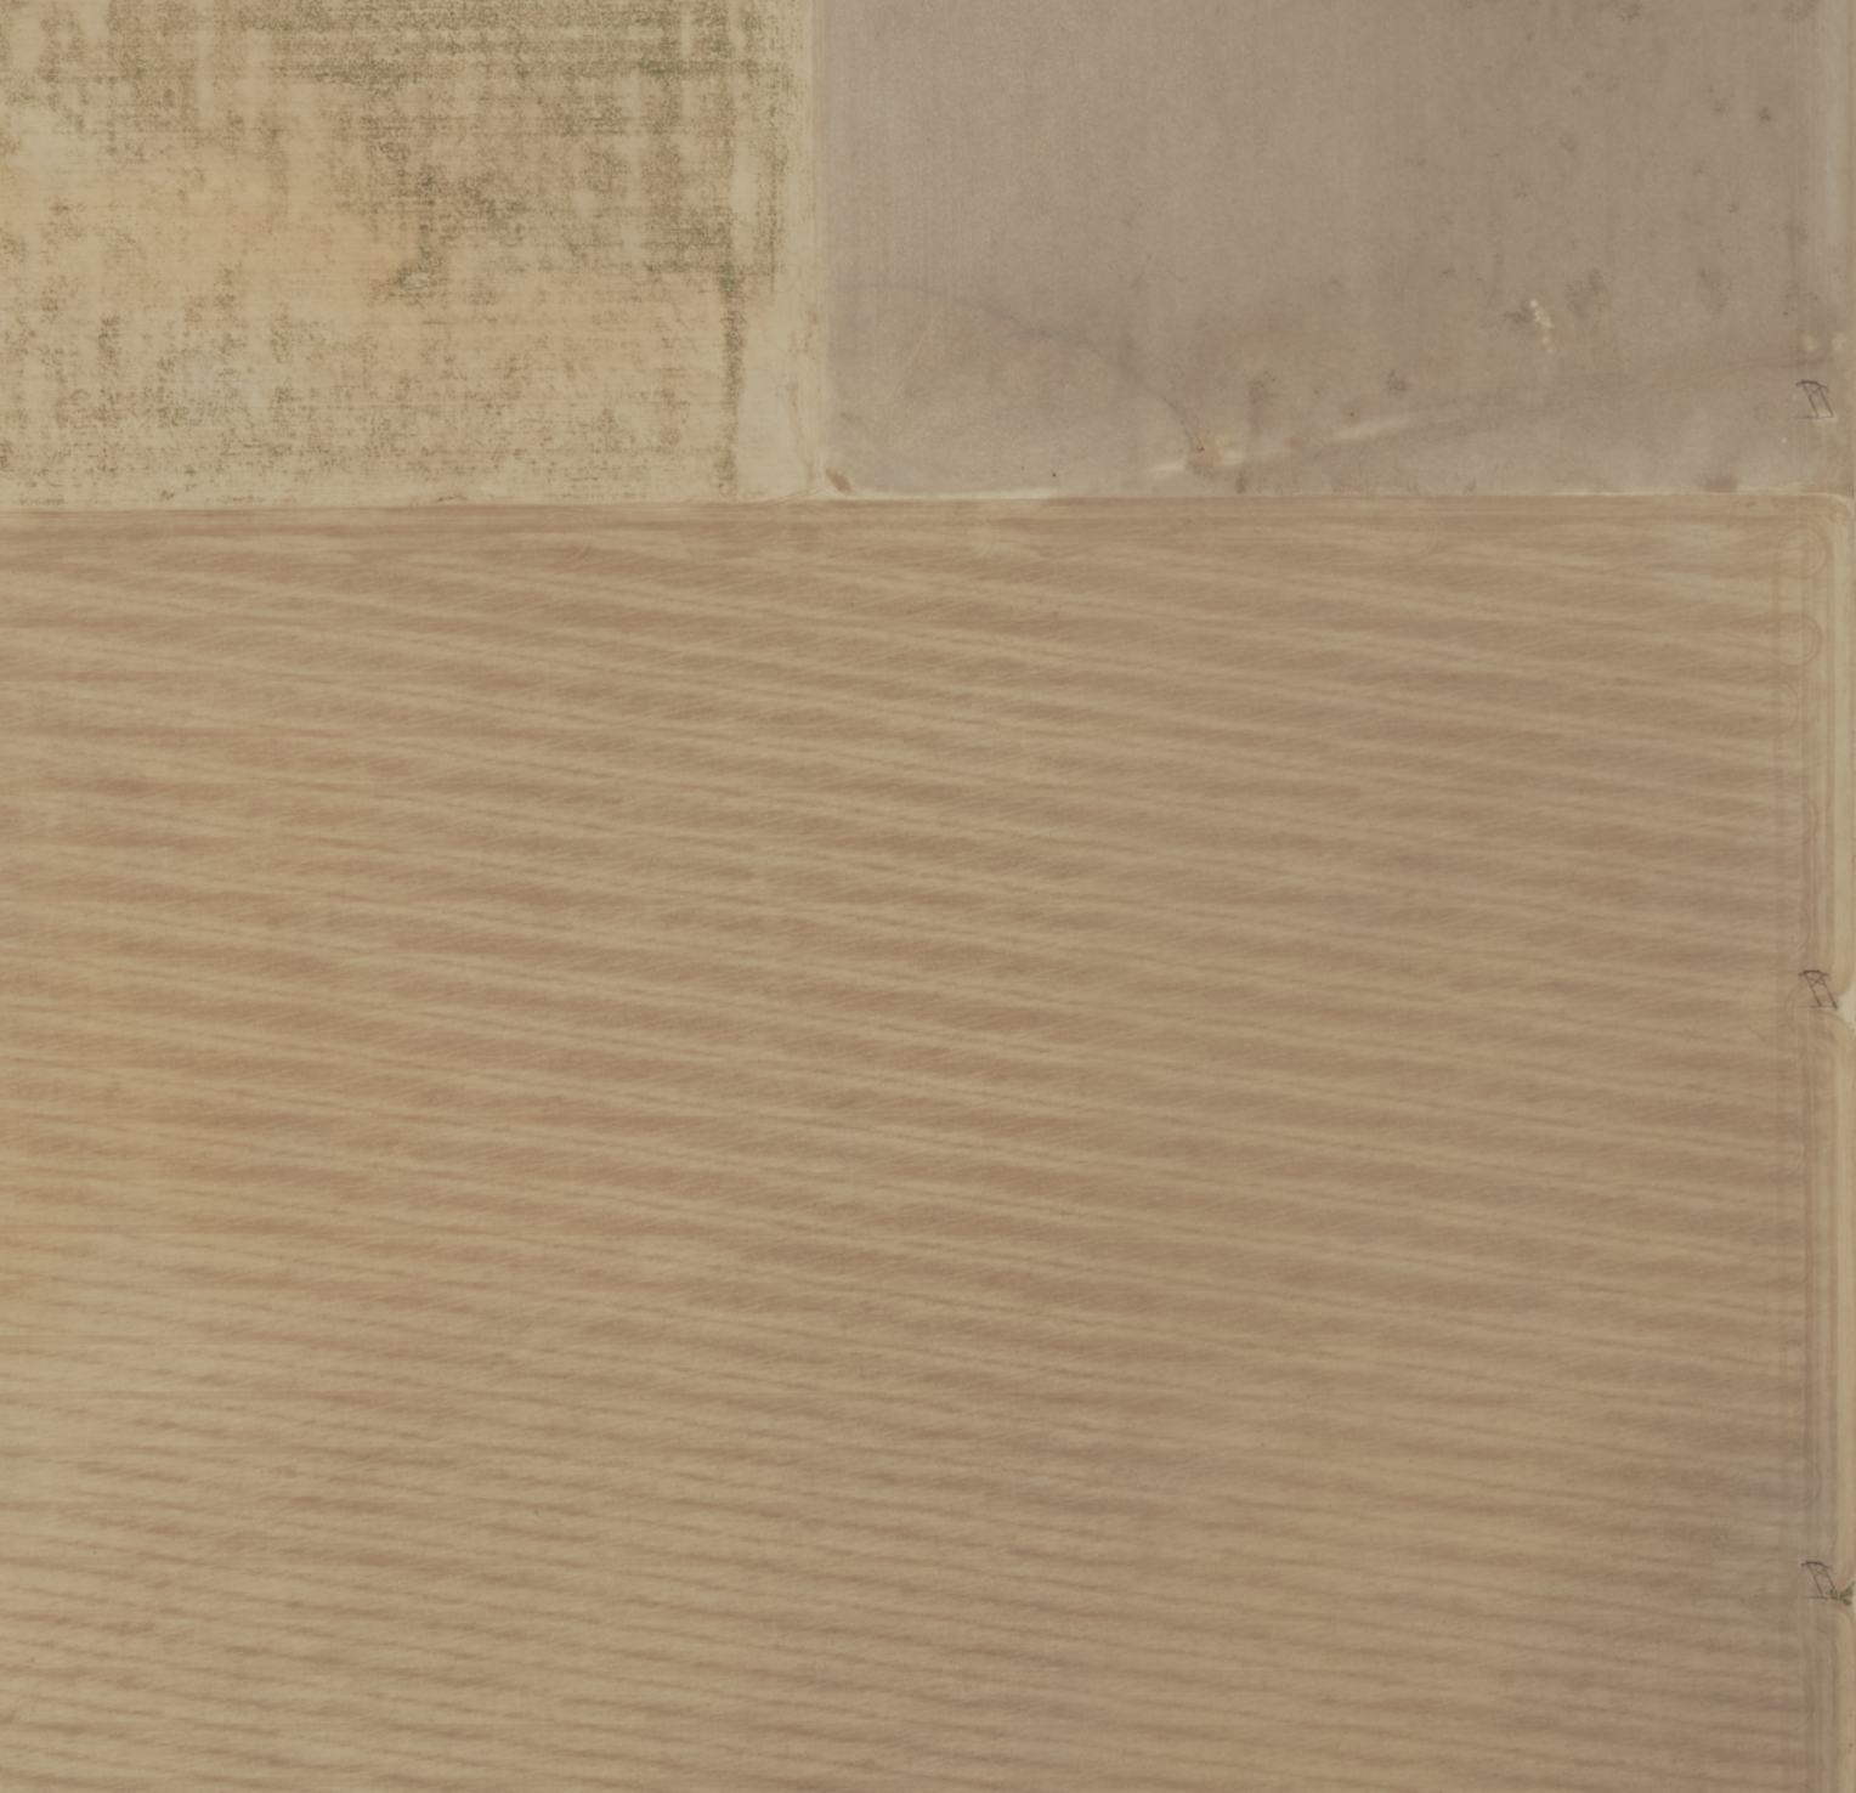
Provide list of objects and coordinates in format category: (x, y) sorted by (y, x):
power tower: (1823, 417)
power tower: (1828, 1006)
power tower: (1830, 1596)
road: (610, 1631)

